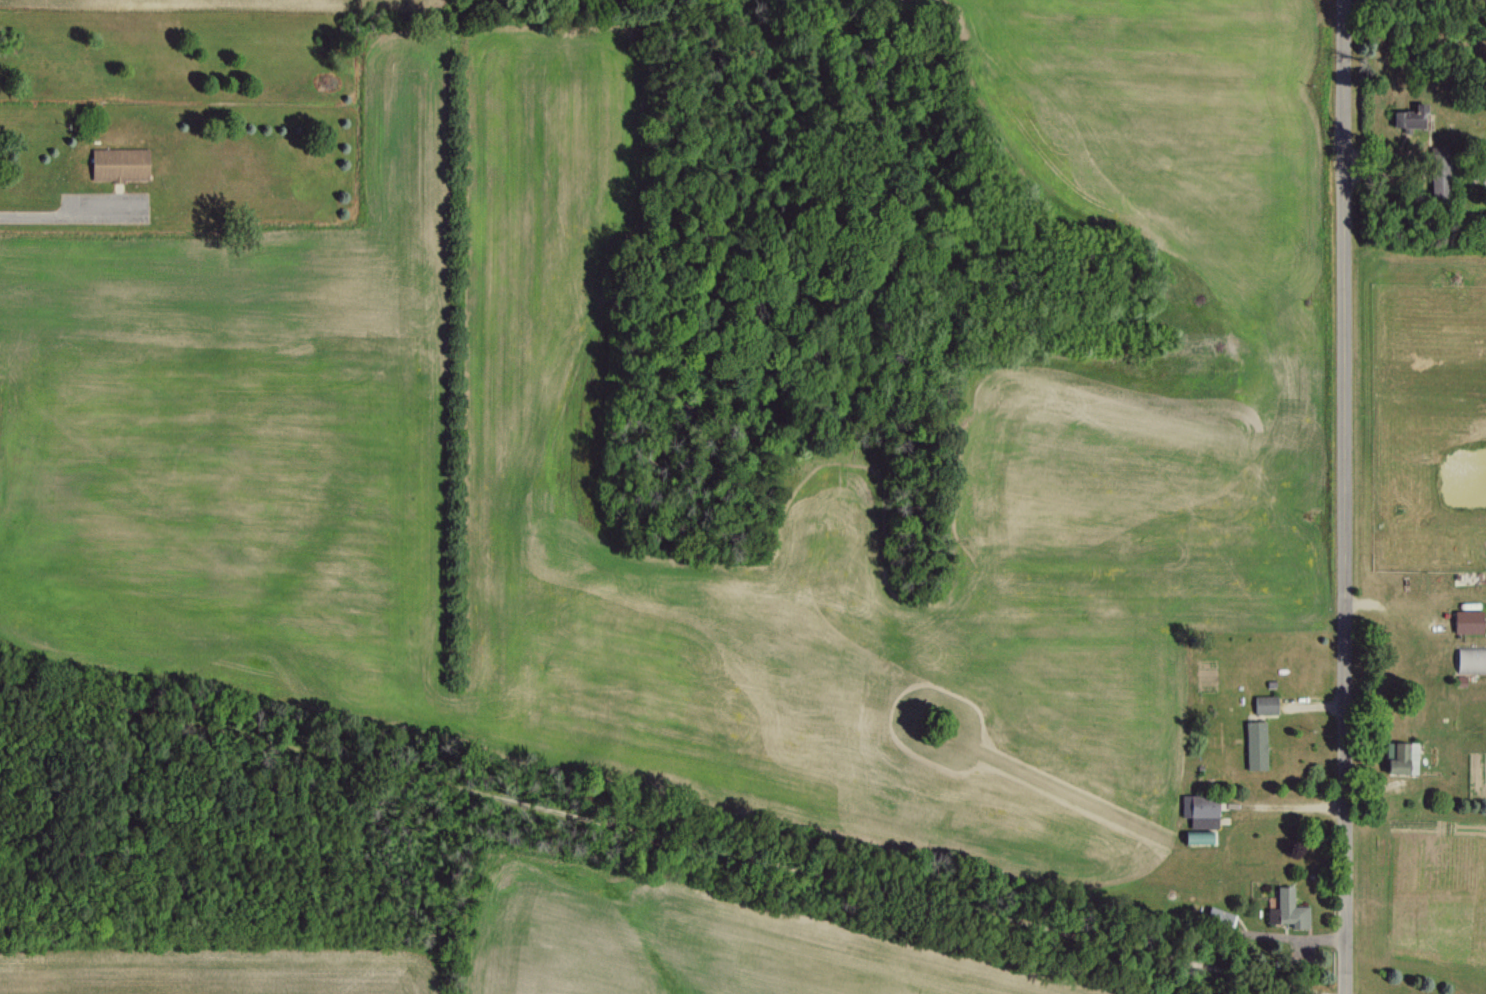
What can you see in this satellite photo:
building: (1409, 117)
building: (120, 164)
building: (1438, 175)
road: (110, 212)
road: (40, 213)
road: (1345, 496)
building: (1466, 621)
building: (1471, 659)
building: (1265, 704)
building: (1255, 745)
building: (1402, 759)
building: (1200, 811)
road: (661, 835)
building: (1194, 837)
building: (1288, 910)
building: (1219, 916)

